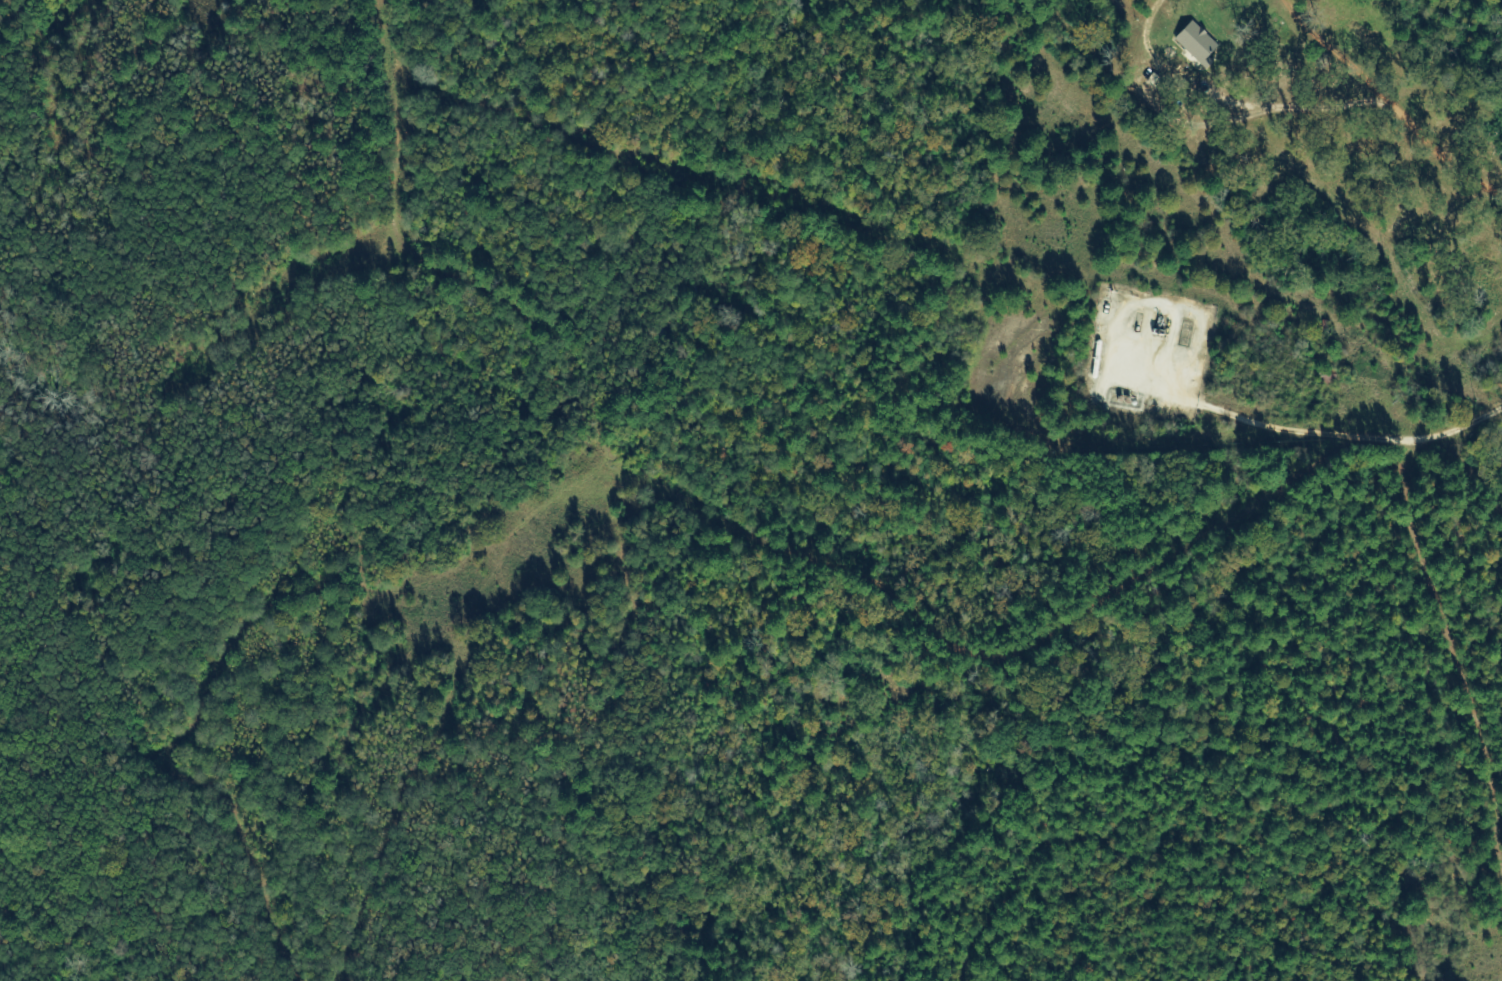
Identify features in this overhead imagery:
road: (1311, 433)

